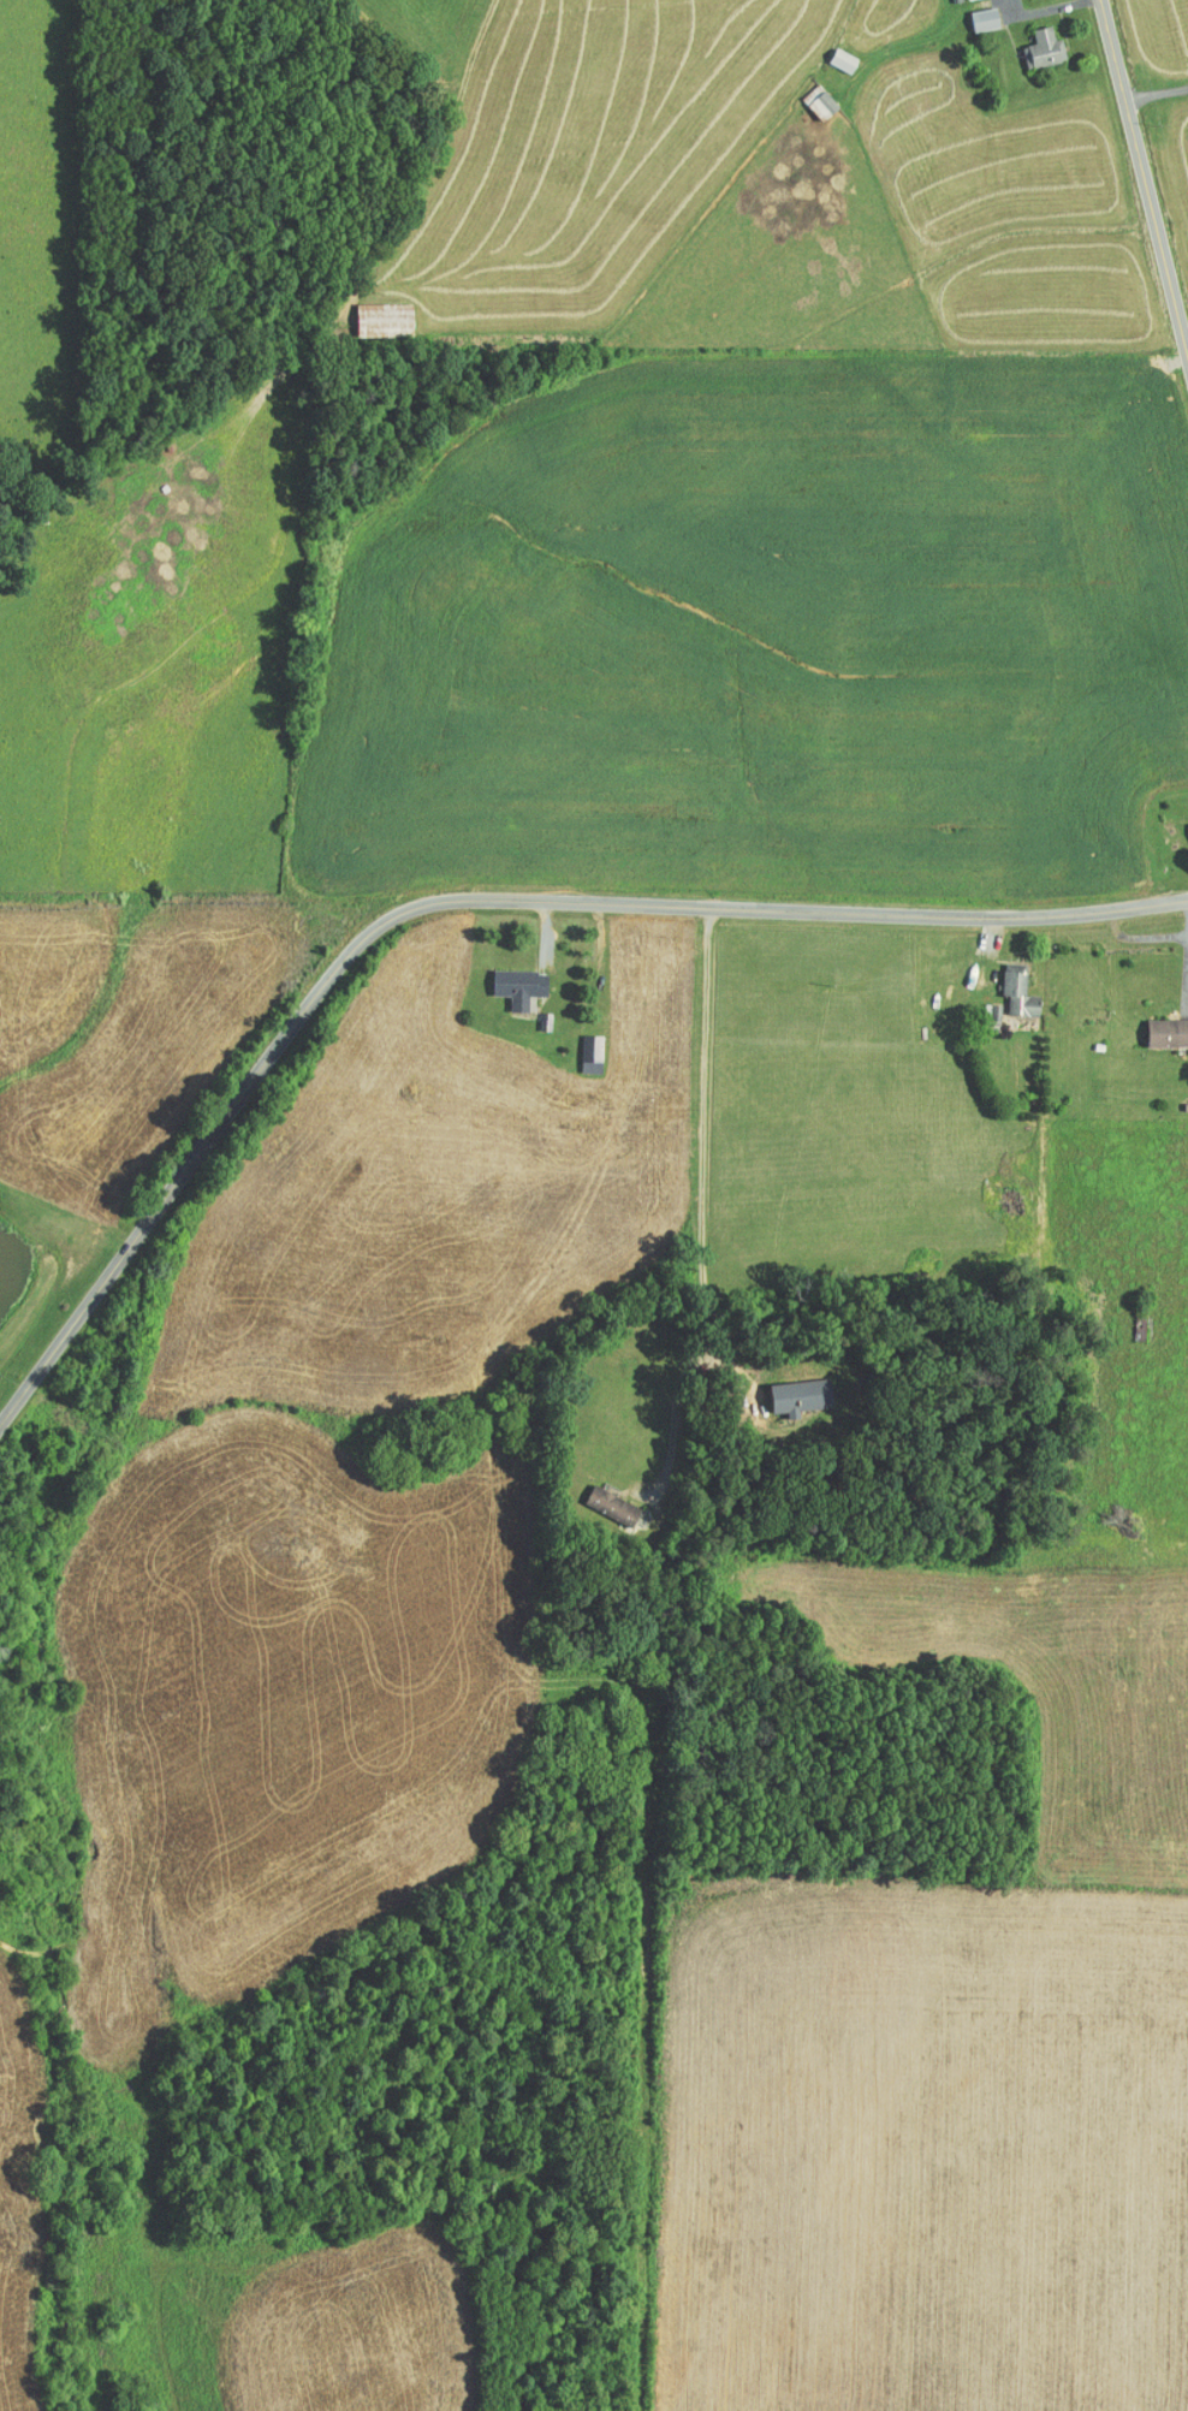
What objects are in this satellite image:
building: (972, 11)
building: (1033, 40)
building: (830, 53)
road: (1156, 93)
building: (807, 95)
road: (1142, 180)
building: (370, 311)
building: (1183, 824)
road: (469, 901)
building: (506, 979)
building: (1005, 984)
building: (1159, 1025)
building: (578, 1045)
road: (702, 1204)
building: (786, 1388)
building: (599, 1497)

